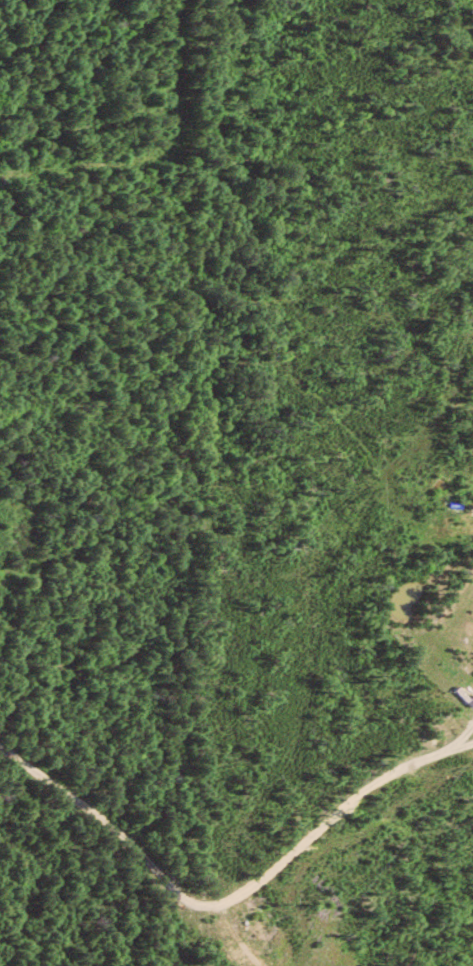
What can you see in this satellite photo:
road: (231, 889)
road: (197, 936)

